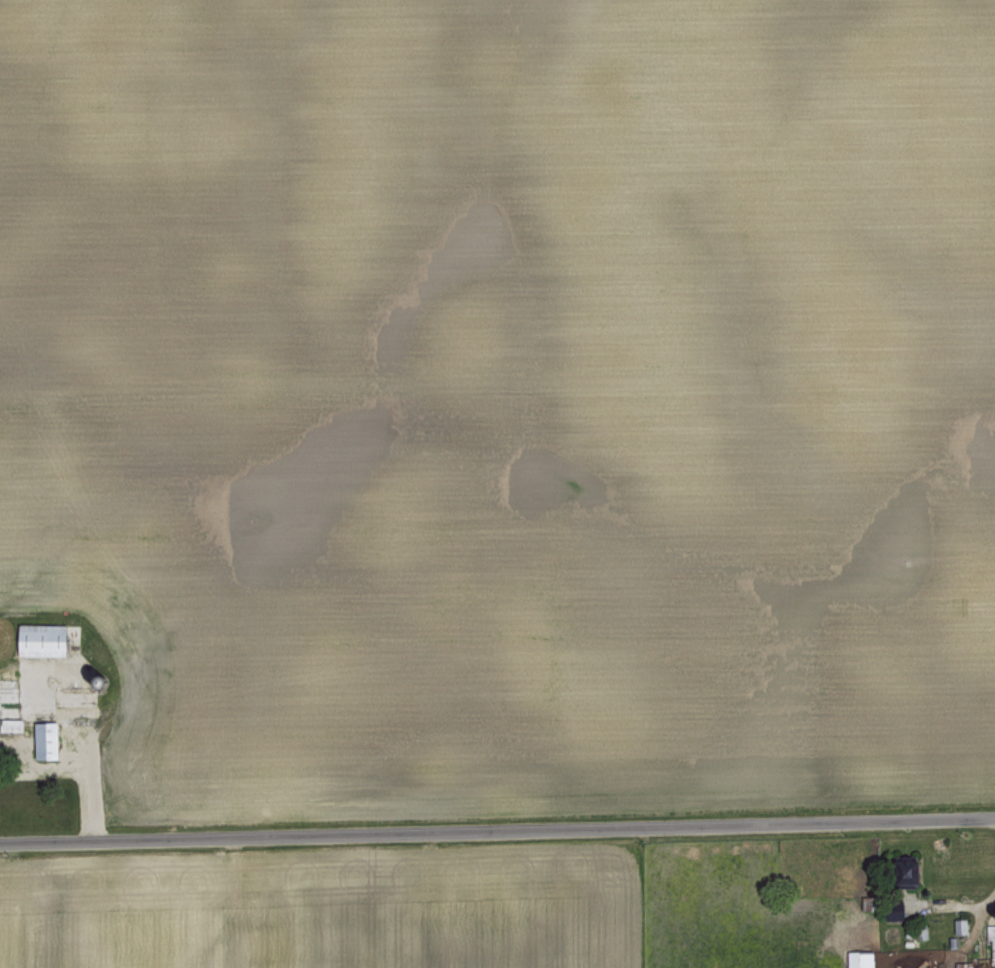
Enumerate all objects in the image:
building: (35, 638)
building: (41, 739)
road: (497, 830)

